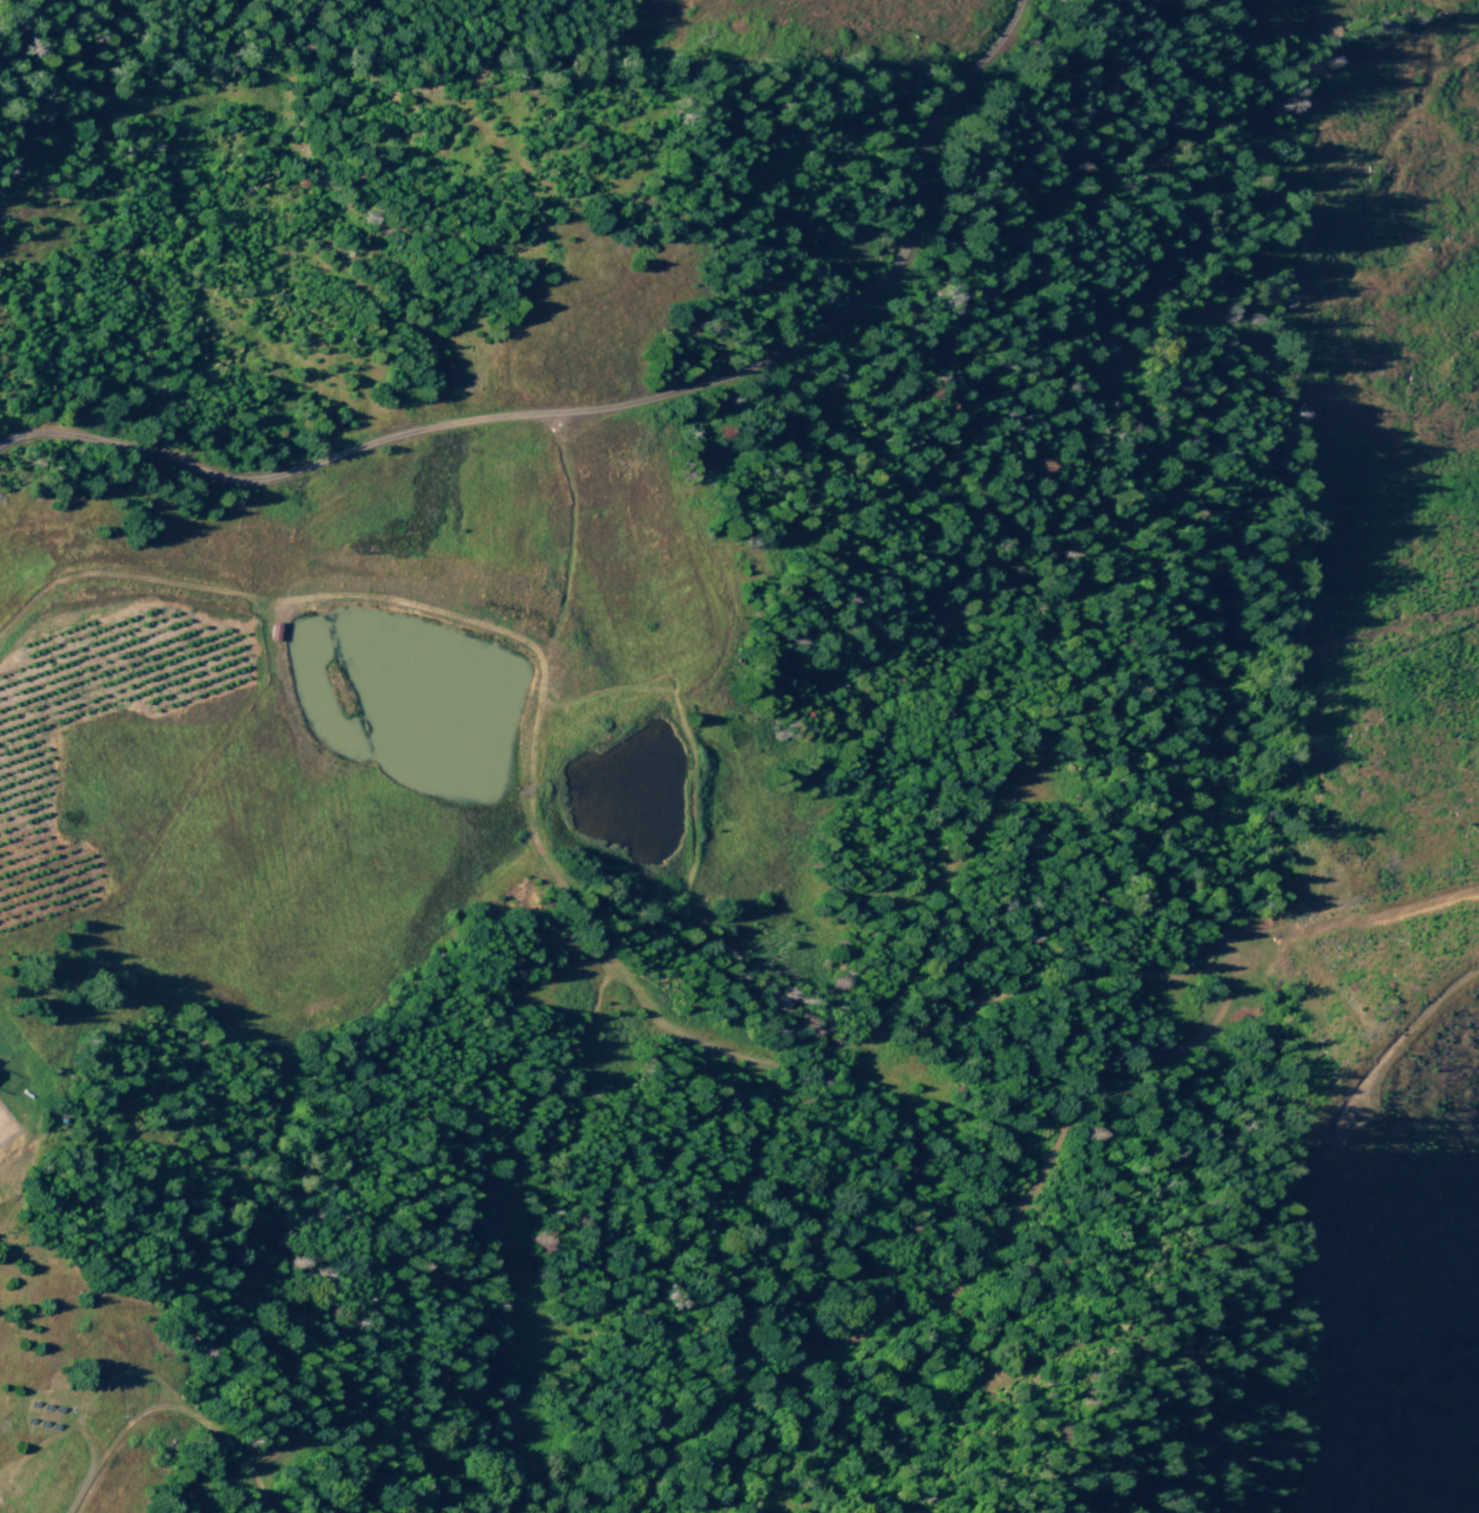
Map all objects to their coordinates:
road: (606, 406)
road: (271, 598)
road: (941, 892)
road: (636, 998)
road: (1220, 999)
road: (167, 1409)

